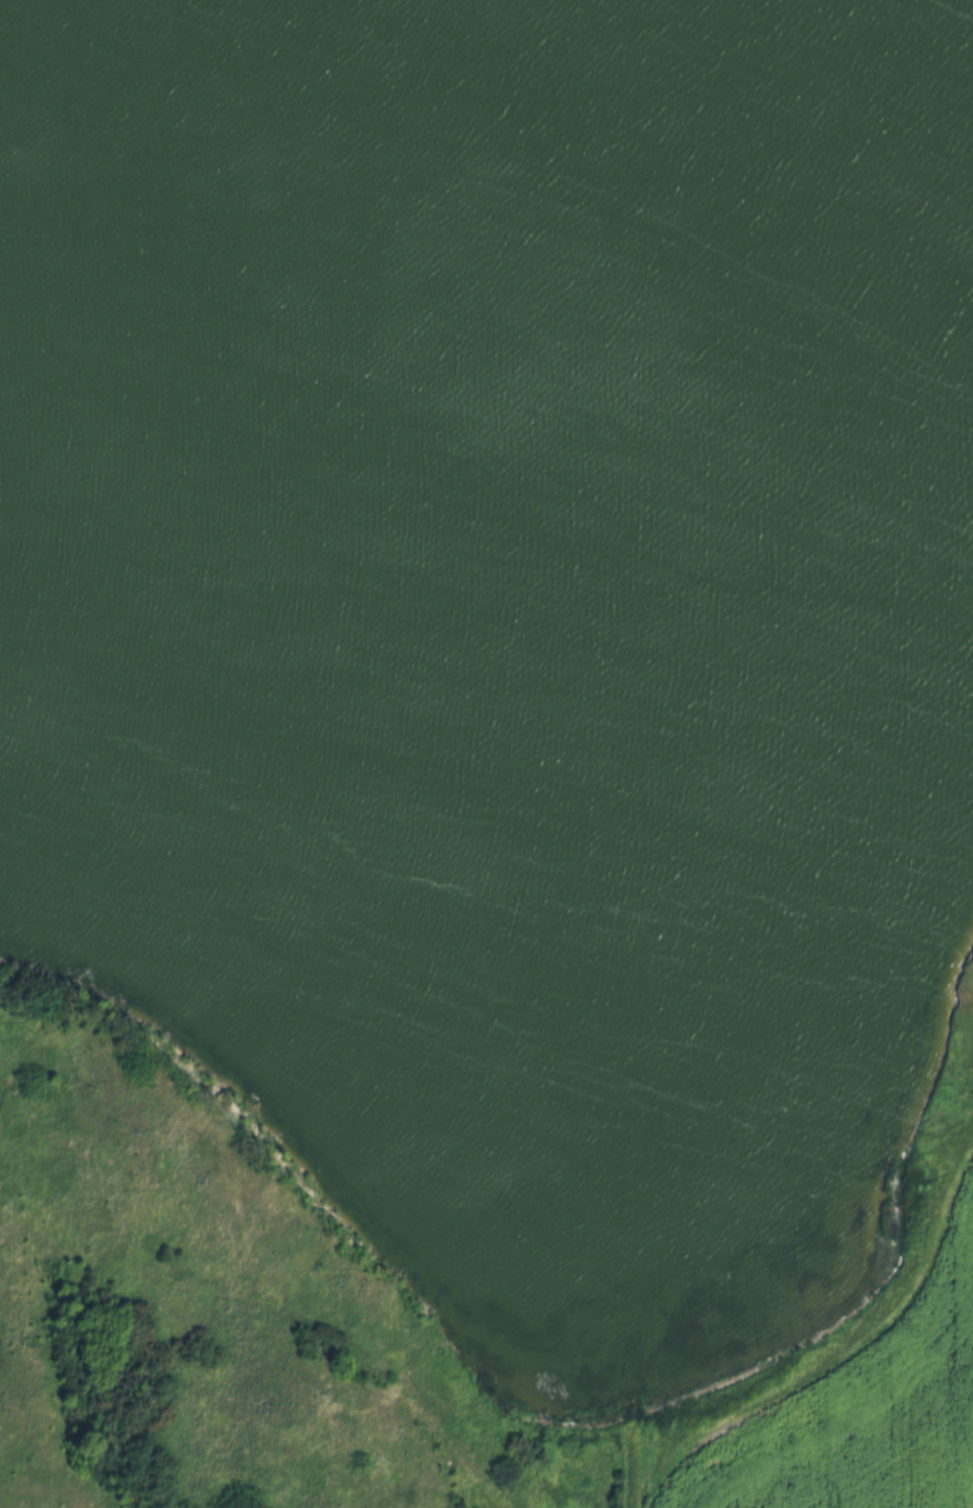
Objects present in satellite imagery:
road: (767, 1241)
road: (635, 1465)

